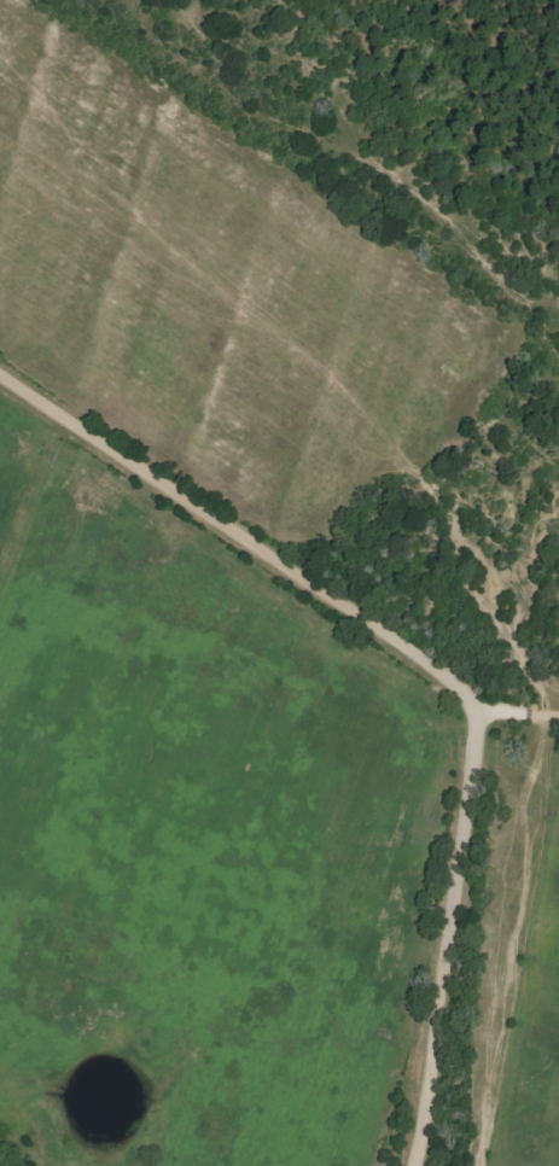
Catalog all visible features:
road: (439, 659)
road: (517, 706)
road: (555, 1078)

